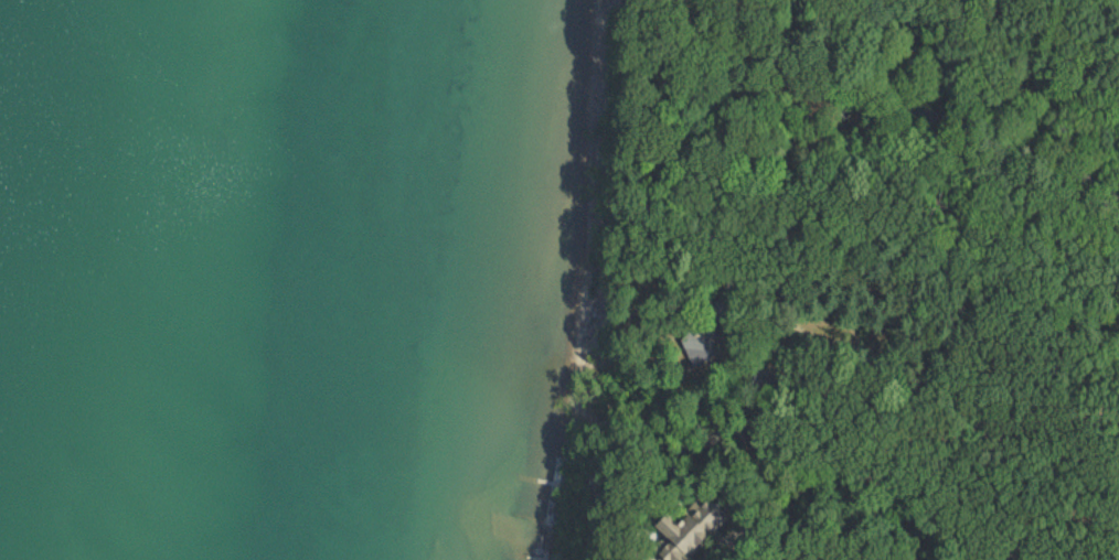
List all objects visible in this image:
road: (865, 136)
road: (935, 322)
road: (801, 358)
road: (1016, 446)
building: (680, 530)

